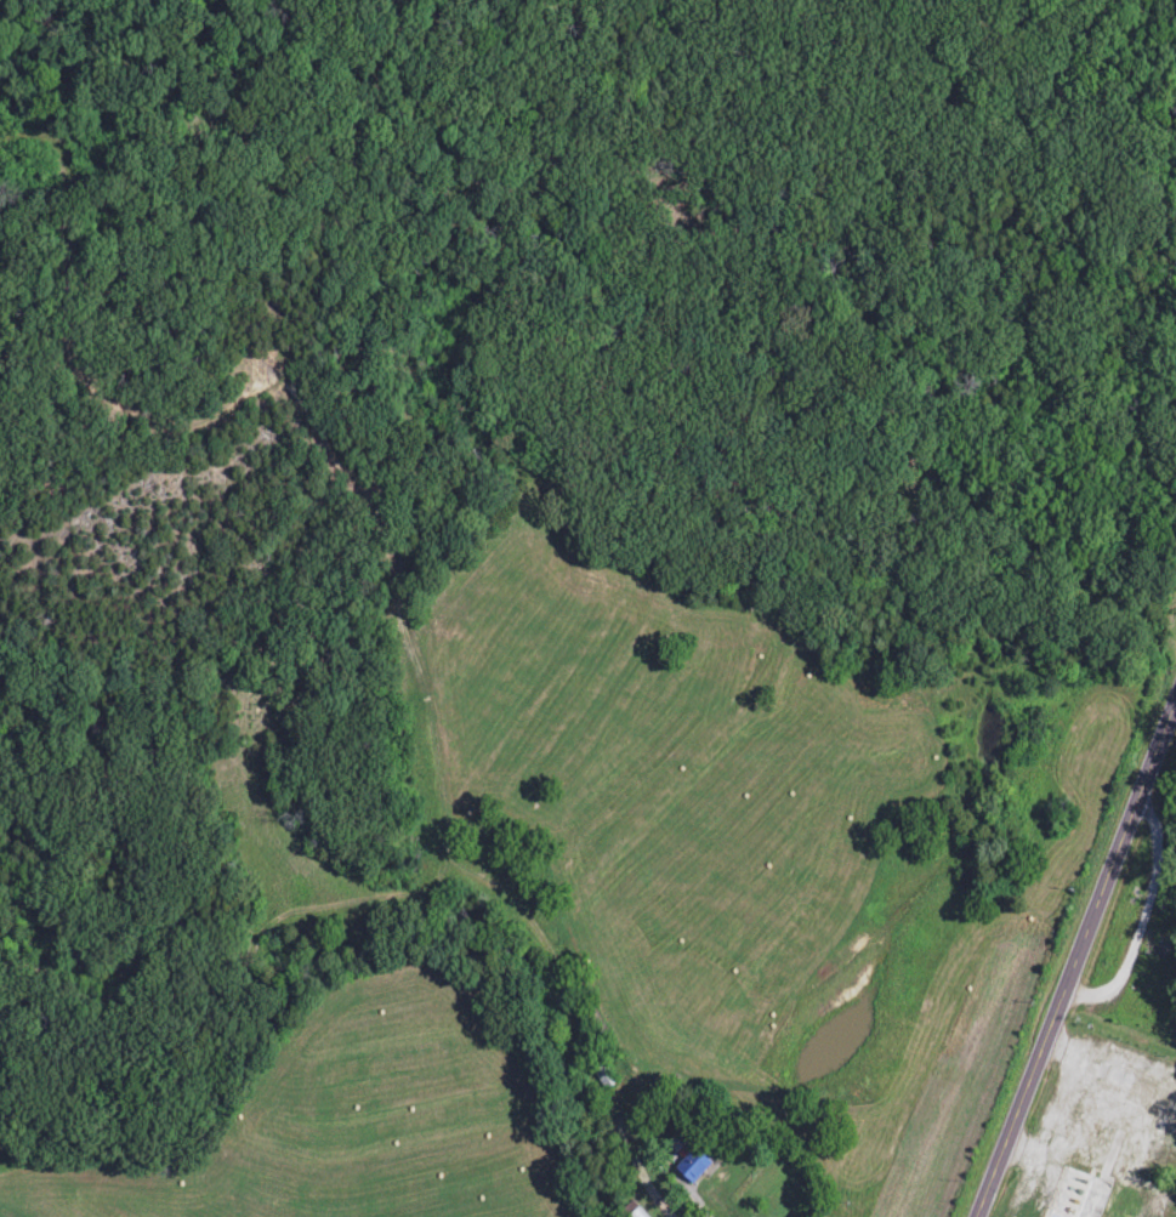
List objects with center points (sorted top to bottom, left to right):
road: (1079, 963)
building: (602, 1077)
building: (686, 1159)
building: (1075, 1195)
building: (635, 1213)

